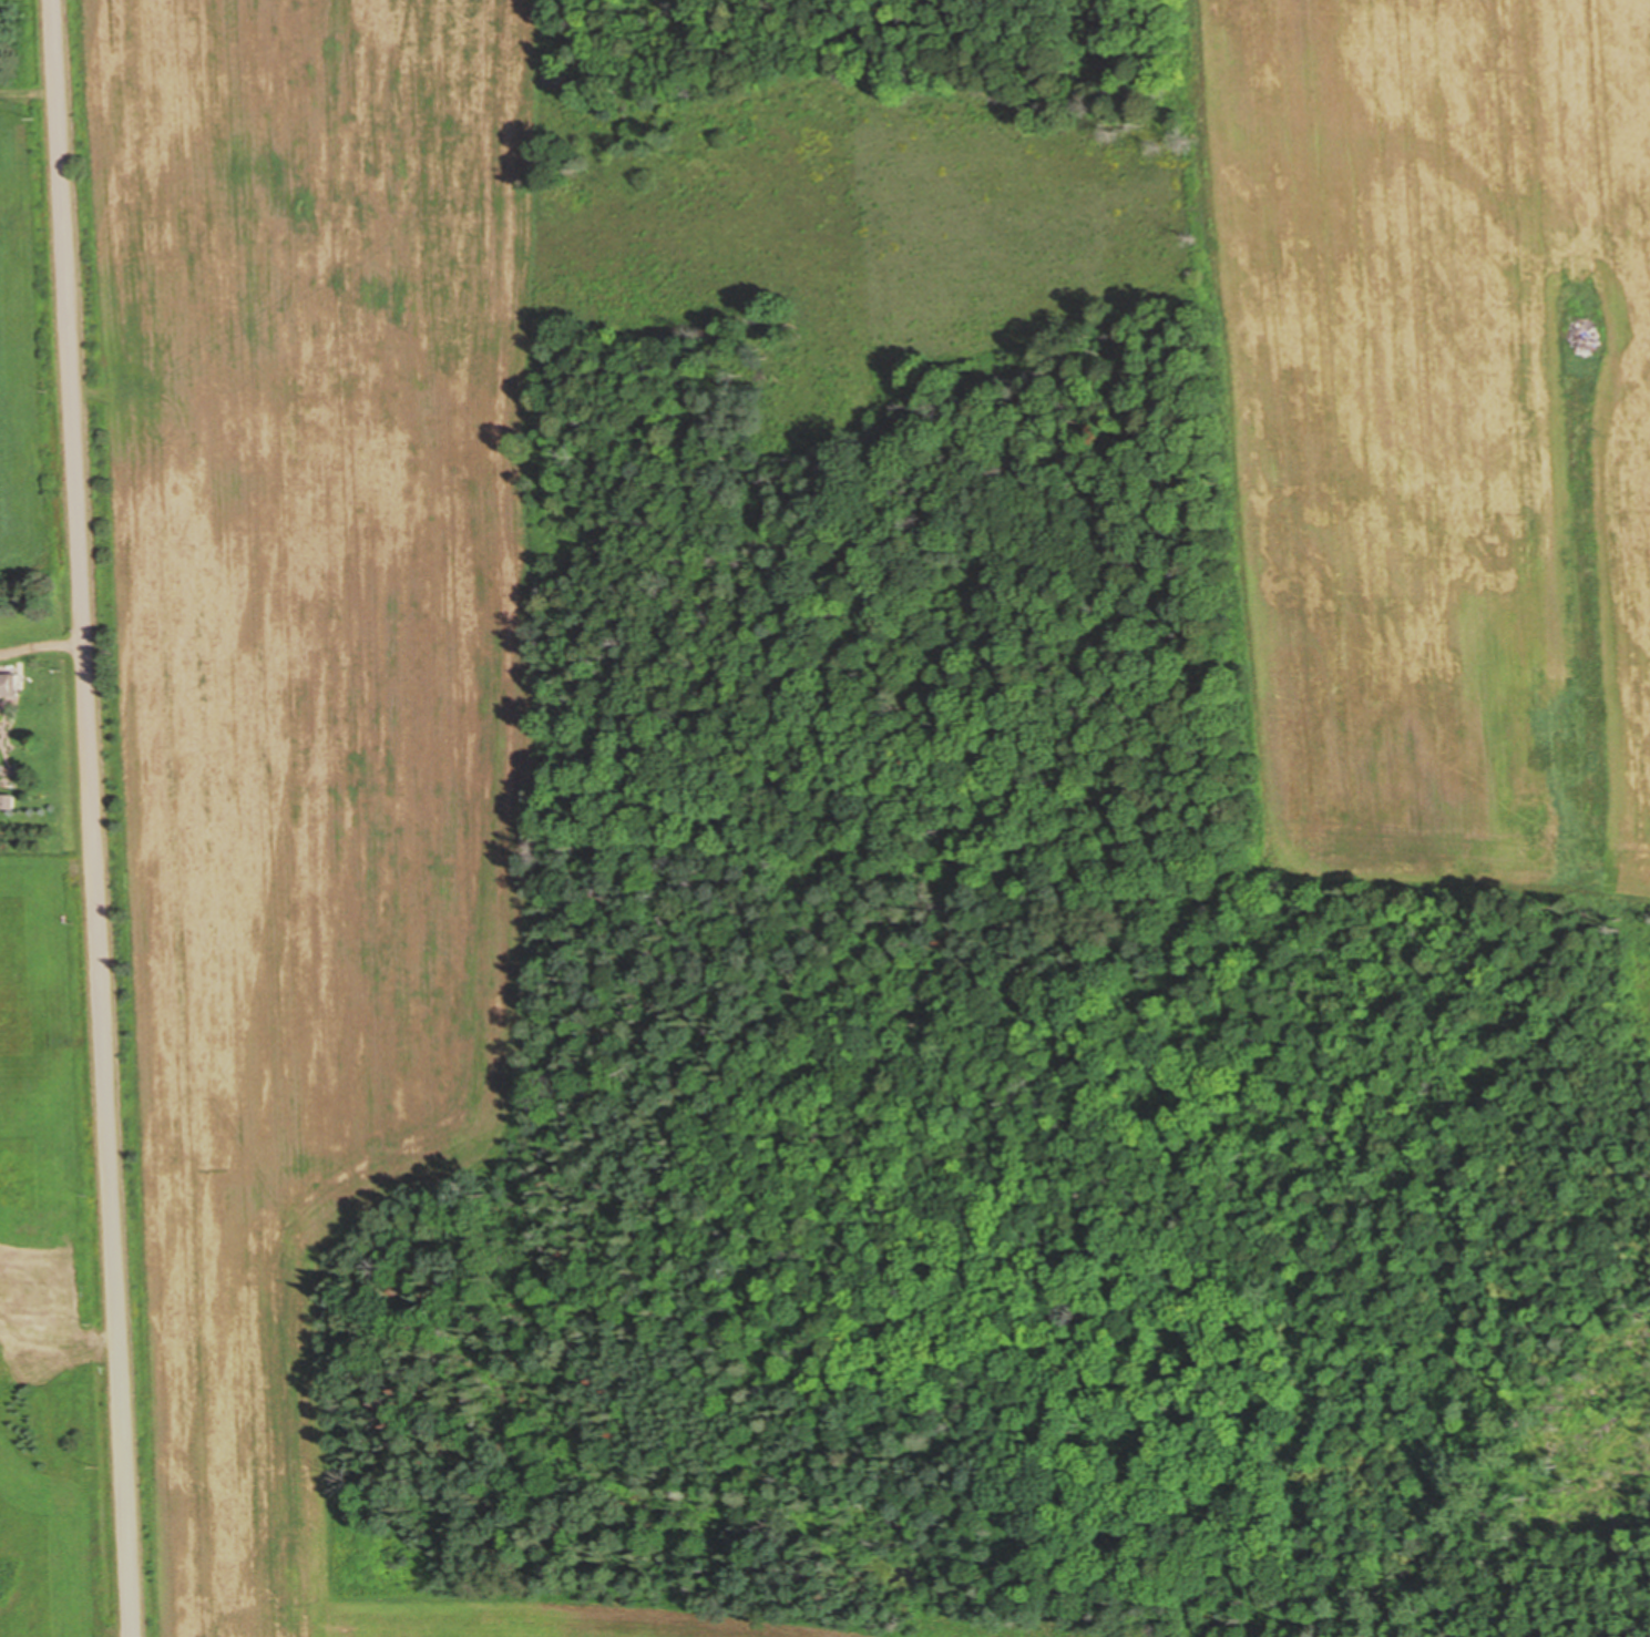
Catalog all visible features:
road: (41, 646)
building: (10, 685)
road: (92, 818)

